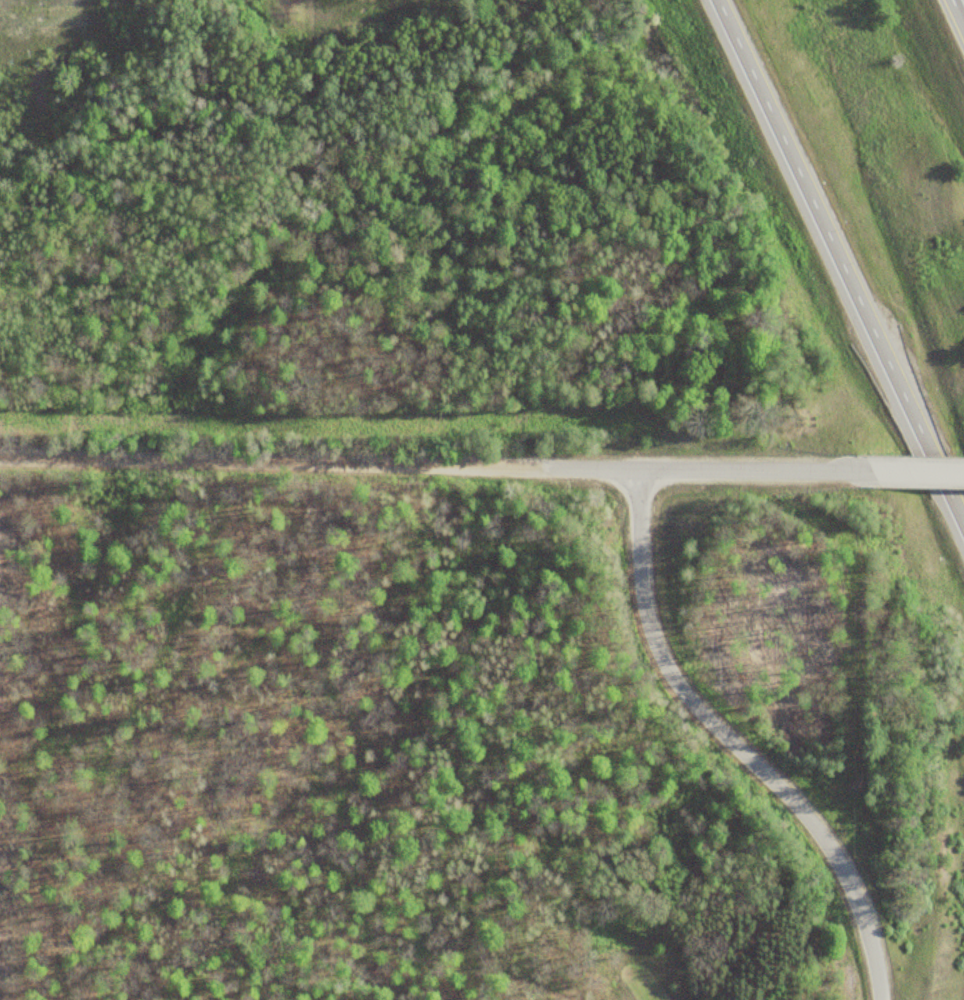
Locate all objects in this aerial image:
road: (840, 259)
road: (166, 465)
road: (915, 469)
road: (599, 470)
road: (731, 744)

